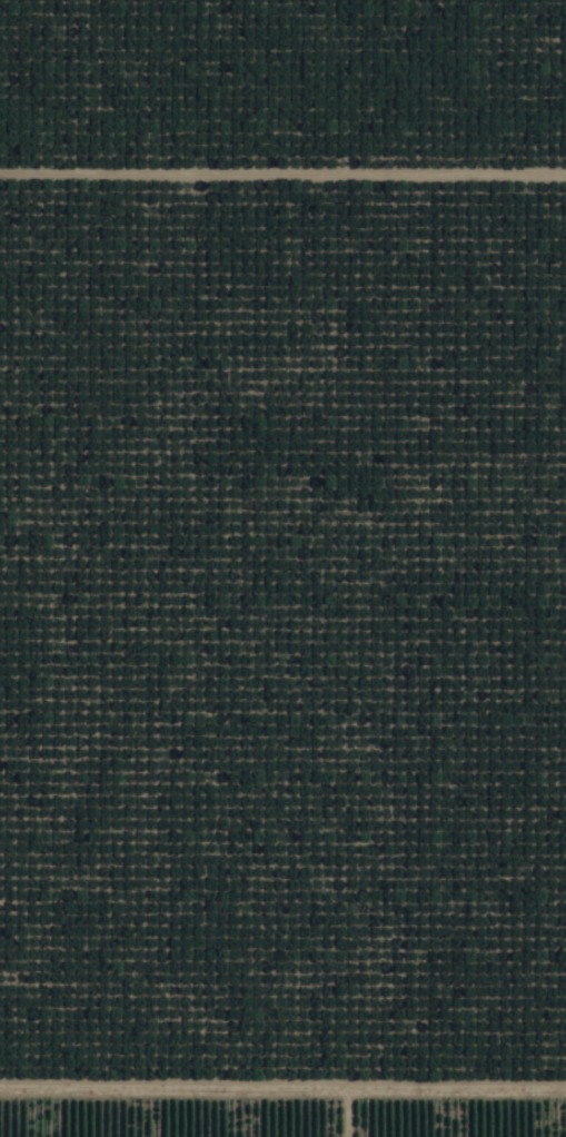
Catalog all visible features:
crop: (285, 1111)
road: (282, 1134)

